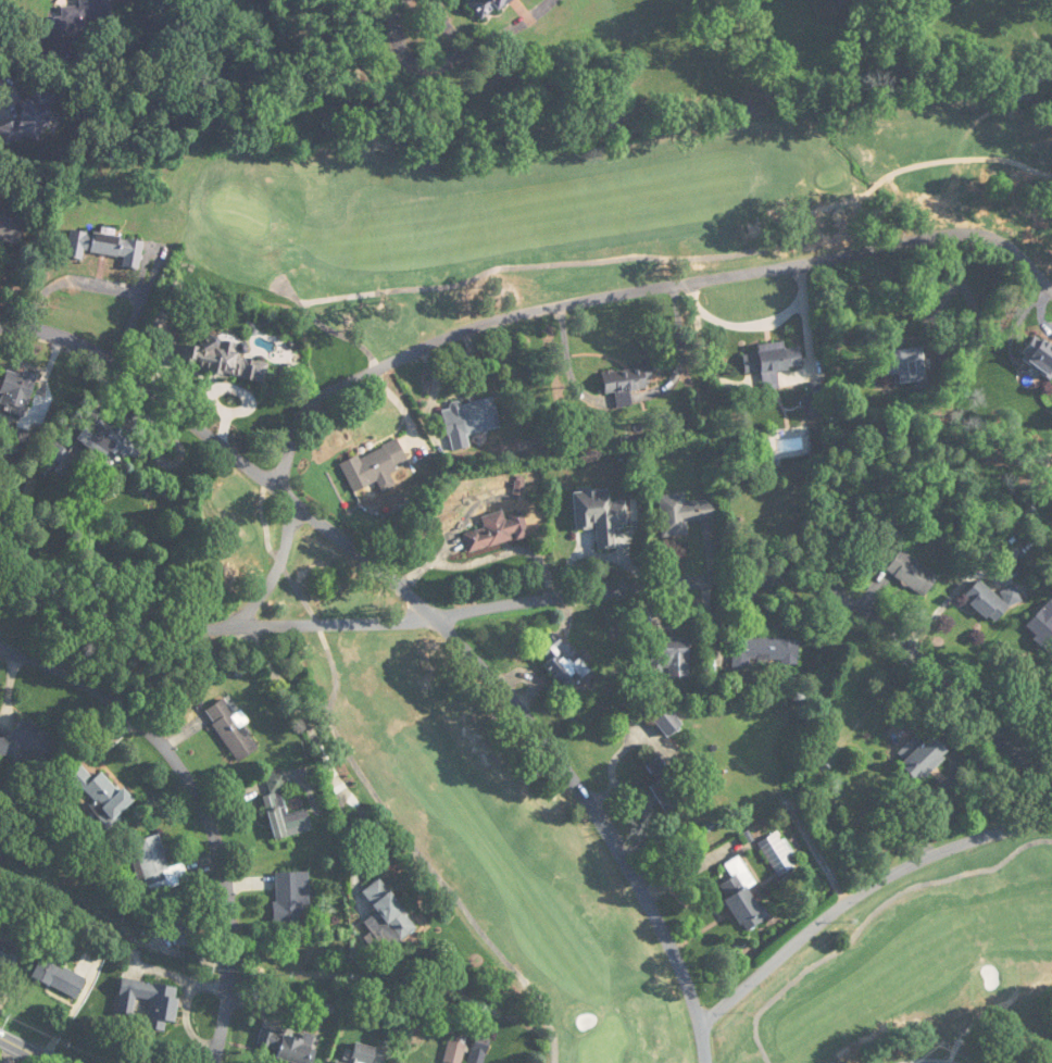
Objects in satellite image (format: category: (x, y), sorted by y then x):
building: (487, 7)
building: (93, 9)
road: (454, 57)
building: (34, 117)
park: (611, 211)
building: (10, 229)
building: (105, 246)
road: (104, 285)
road: (639, 289)
road: (943, 299)
road: (1040, 310)
road: (1014, 326)
building: (1040, 353)
building: (222, 359)
building: (772, 361)
building: (906, 364)
building: (628, 385)
building: (16, 391)
road: (245, 393)
building: (811, 405)
building: (469, 421)
building: (112, 441)
building: (55, 458)
building: (376, 466)
building: (681, 514)
building: (599, 515)
building: (497, 530)
road: (275, 571)
building: (913, 573)
road: (565, 596)
road: (948, 599)
building: (991, 601)
road: (434, 615)
building: (1042, 625)
building: (765, 650)
building: (669, 655)
building: (561, 663)
building: (669, 723)
building: (231, 729)
building: (32, 746)
building: (925, 756)
road: (337, 780)
building: (665, 787)
building: (99, 791)
road: (202, 804)
building: (284, 809)
park: (606, 840)
building: (778, 853)
building: (158, 865)
road: (859, 891)
building: (742, 895)
building: (290, 896)
building: (389, 913)
building: (177, 929)
building: (9, 945)
building: (59, 977)
building: (163, 1006)
building: (285, 1047)
road: (28, 1049)
building: (455, 1049)
building: (480, 1051)
building: (362, 1053)
building: (1050, 1060)

